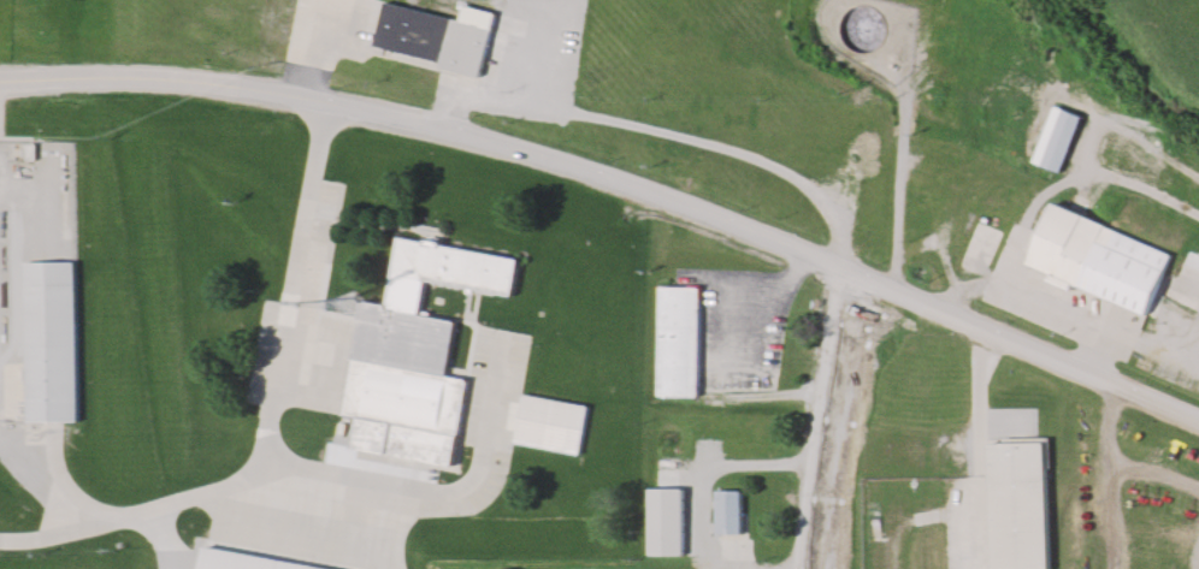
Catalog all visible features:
building: (431, 34)
road: (672, 134)
building: (1058, 138)
road: (904, 162)
road: (616, 179)
road: (1044, 197)
building: (984, 241)
building: (1100, 259)
building: (1191, 261)
road: (285, 334)
road: (1135, 339)
building: (49, 342)
building: (677, 342)
building: (415, 354)
road: (822, 417)
building: (551, 423)
road: (981, 427)
road: (301, 466)
building: (1018, 504)
building: (731, 512)
road: (57, 535)
building: (222, 535)
road: (797, 568)

